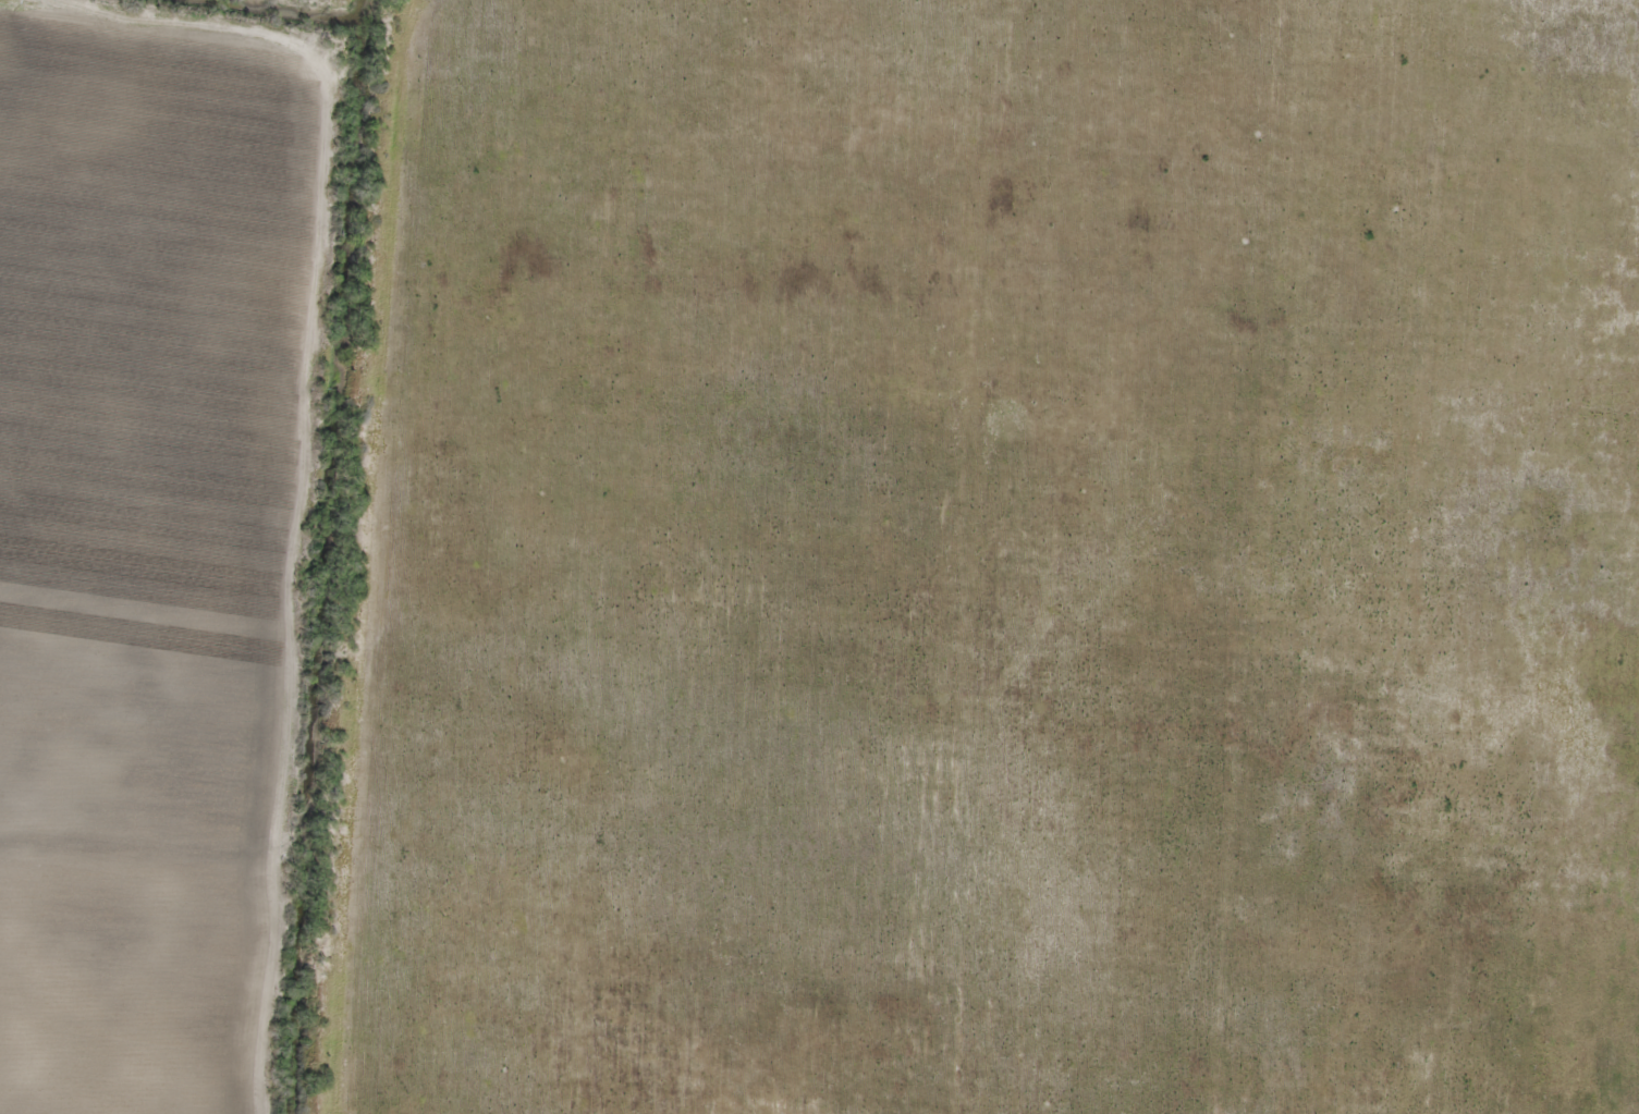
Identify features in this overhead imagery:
road: (1565, 617)

